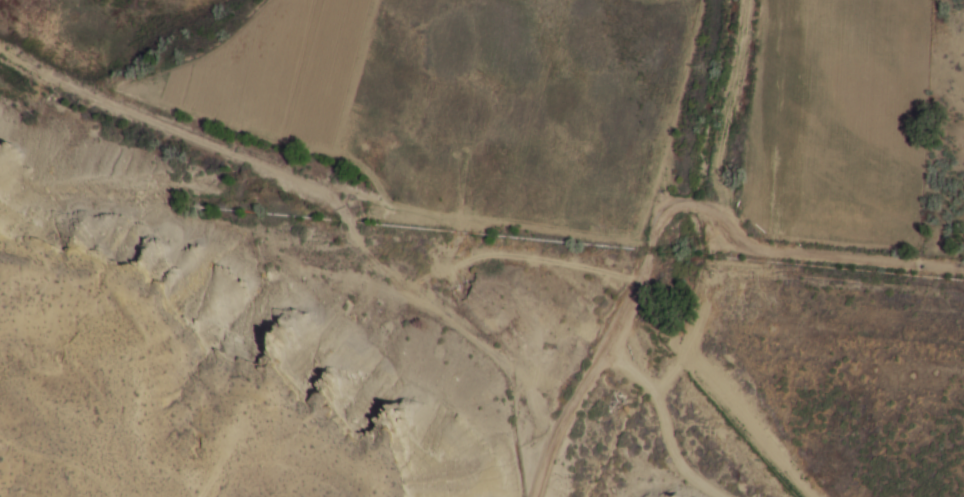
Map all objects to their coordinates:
road: (329, 204)
road: (822, 257)
road: (615, 333)
road: (668, 421)
road: (541, 486)

